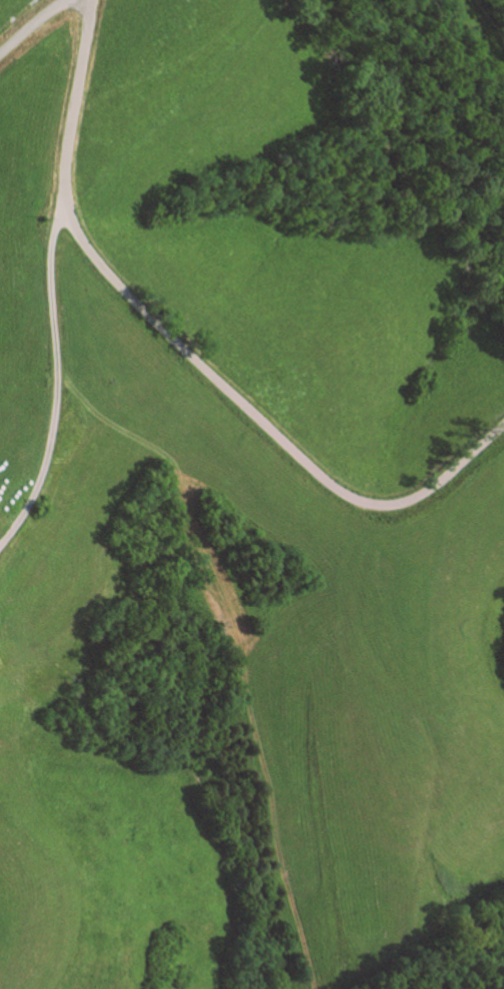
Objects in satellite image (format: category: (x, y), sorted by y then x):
road: (32, 27)
road: (188, 351)
road: (55, 376)

